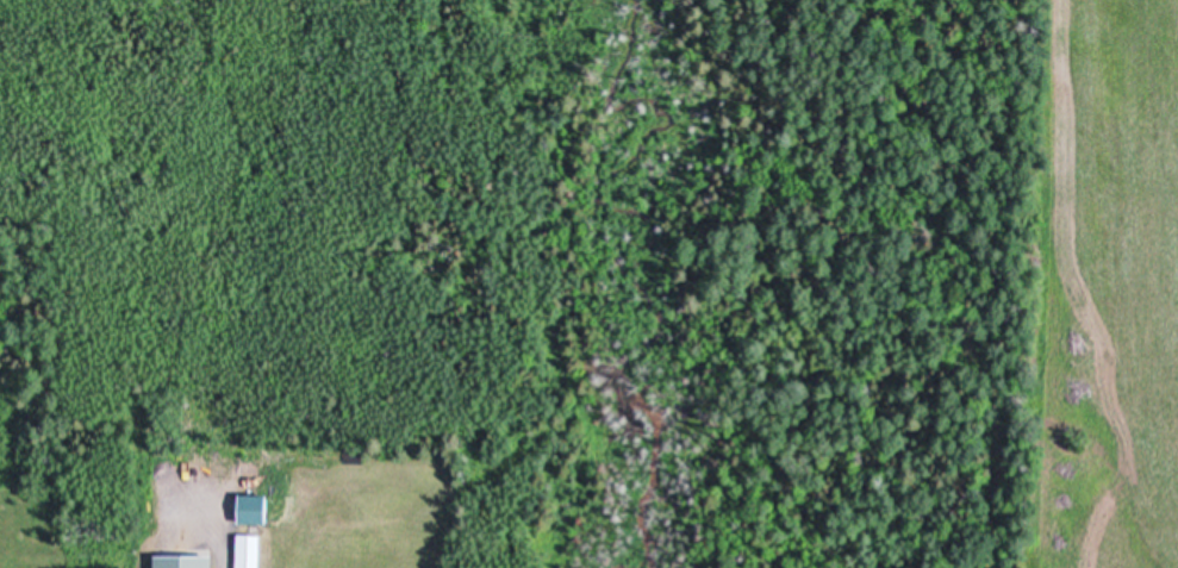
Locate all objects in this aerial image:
building: (245, 505)
building: (248, 550)
building: (180, 560)

